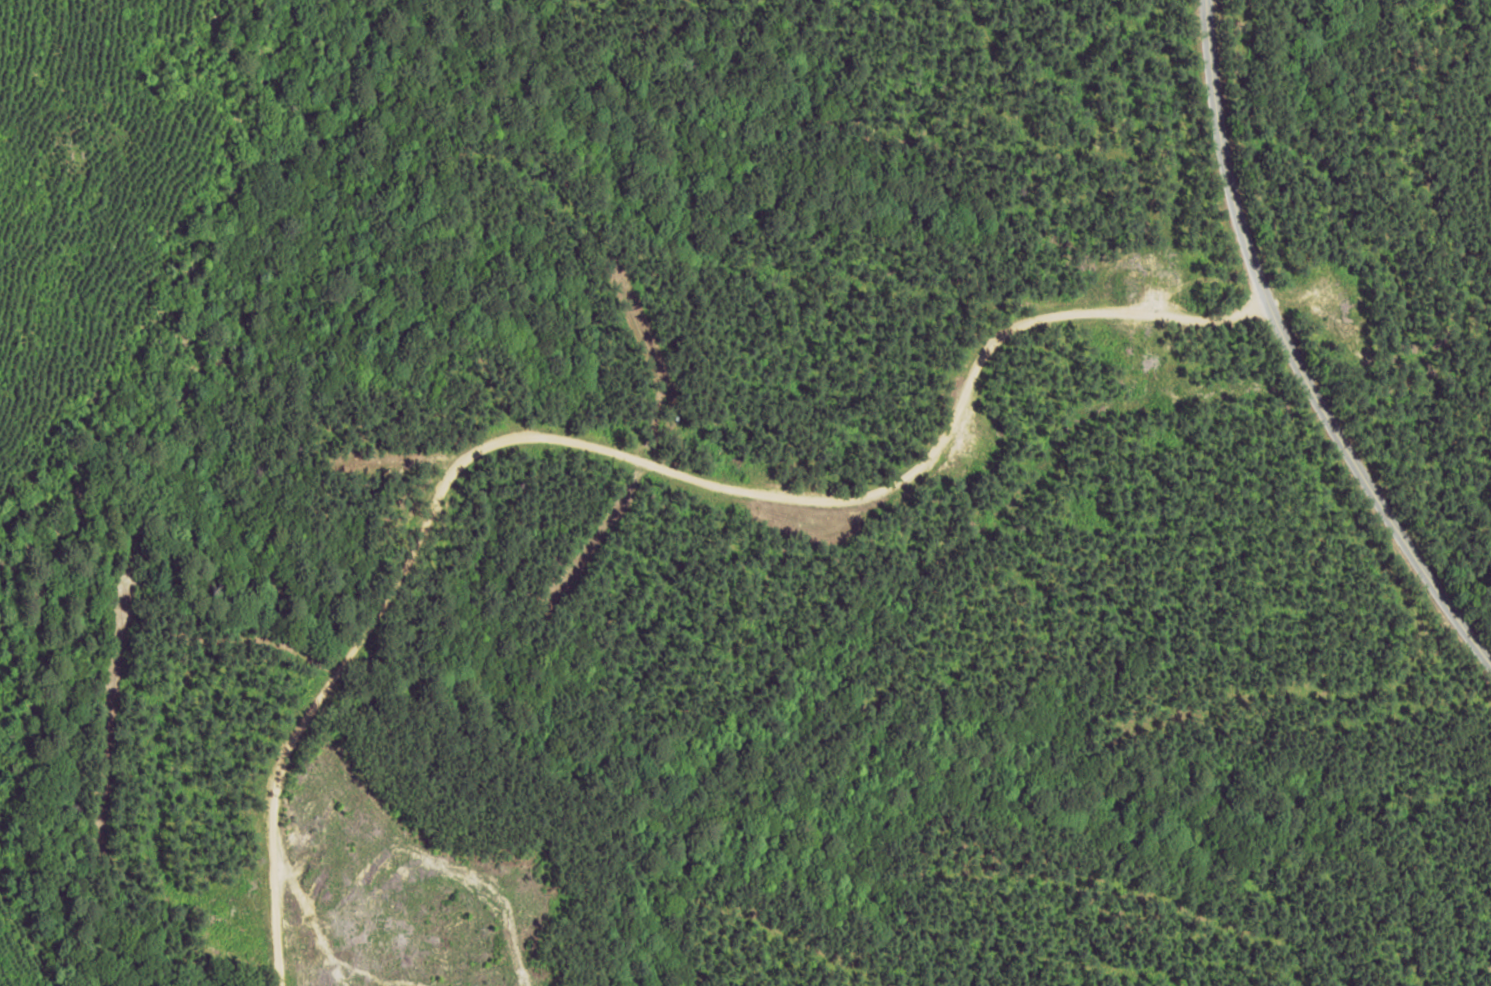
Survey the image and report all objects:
road: (1274, 372)

